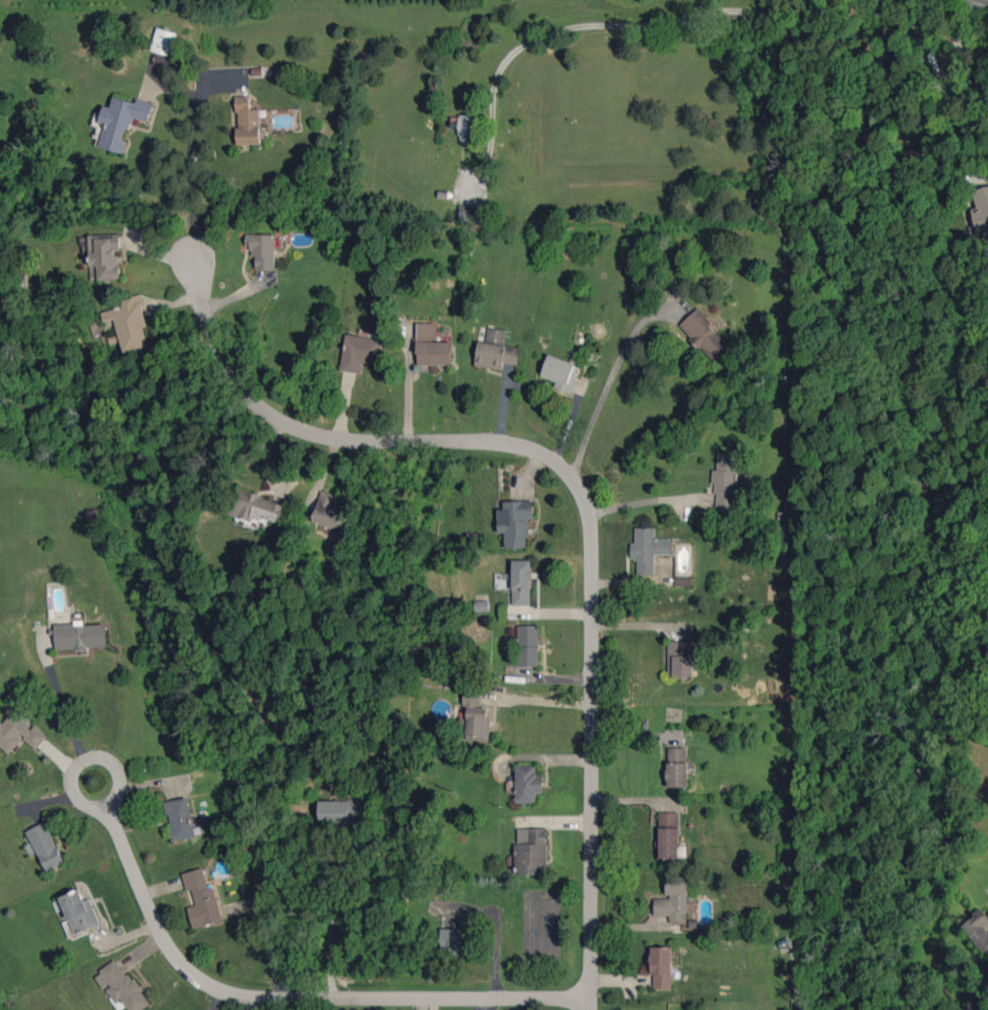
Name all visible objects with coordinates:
road: (987, 0)
road: (584, 26)
building: (163, 41)
road: (946, 82)
building: (121, 120)
building: (247, 121)
building: (467, 128)
road: (190, 185)
building: (981, 210)
building: (470, 212)
building: (263, 250)
building: (104, 256)
building: (129, 323)
building: (425, 331)
building: (705, 334)
building: (496, 350)
building: (359, 352)
building: (434, 353)
building: (561, 373)
road: (607, 385)
building: (726, 482)
road: (585, 496)
road: (638, 503)
building: (257, 509)
building: (330, 511)
building: (515, 522)
building: (648, 549)
building: (517, 581)
building: (80, 636)
building: (528, 645)
building: (681, 658)
road: (59, 700)
road: (545, 702)
building: (475, 714)
building: (20, 729)
road: (101, 757)
building: (677, 767)
building: (527, 783)
building: (339, 811)
building: (180, 819)
building: (668, 835)
building: (44, 846)
building: (531, 851)
building: (202, 899)
building: (673, 900)
building: (79, 911)
road: (330, 914)
building: (978, 930)
building: (662, 967)
building: (121, 987)
road: (299, 995)

